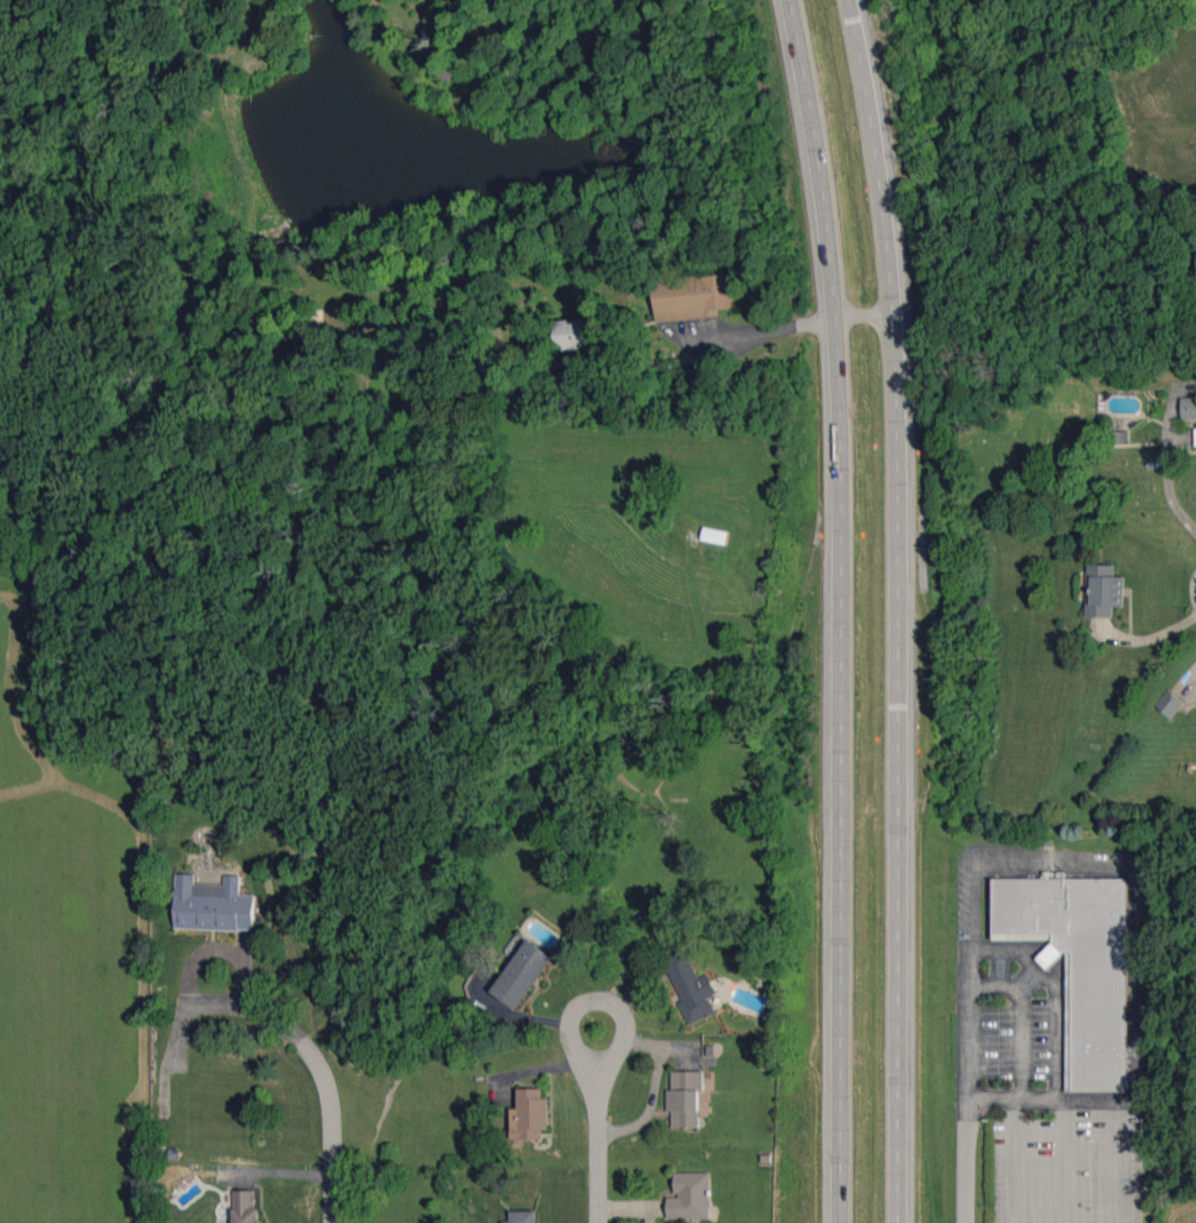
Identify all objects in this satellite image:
building: (443, 67)
building: (693, 296)
road: (788, 324)
building: (575, 332)
building: (1188, 407)
building: (1117, 436)
building: (1195, 441)
road: (1168, 495)
building: (1103, 590)
road: (841, 609)
road: (901, 609)
road: (1145, 637)
building: (1168, 703)
road: (1049, 856)
building: (212, 904)
road: (237, 959)
building: (1078, 964)
building: (522, 974)
building: (691, 986)
road: (606, 1003)
building: (685, 1098)
road: (1127, 1104)
building: (529, 1113)
road: (334, 1133)
road: (967, 1138)
road: (599, 1153)
road: (1014, 1162)
building: (691, 1197)
building: (245, 1206)
building: (522, 1216)

